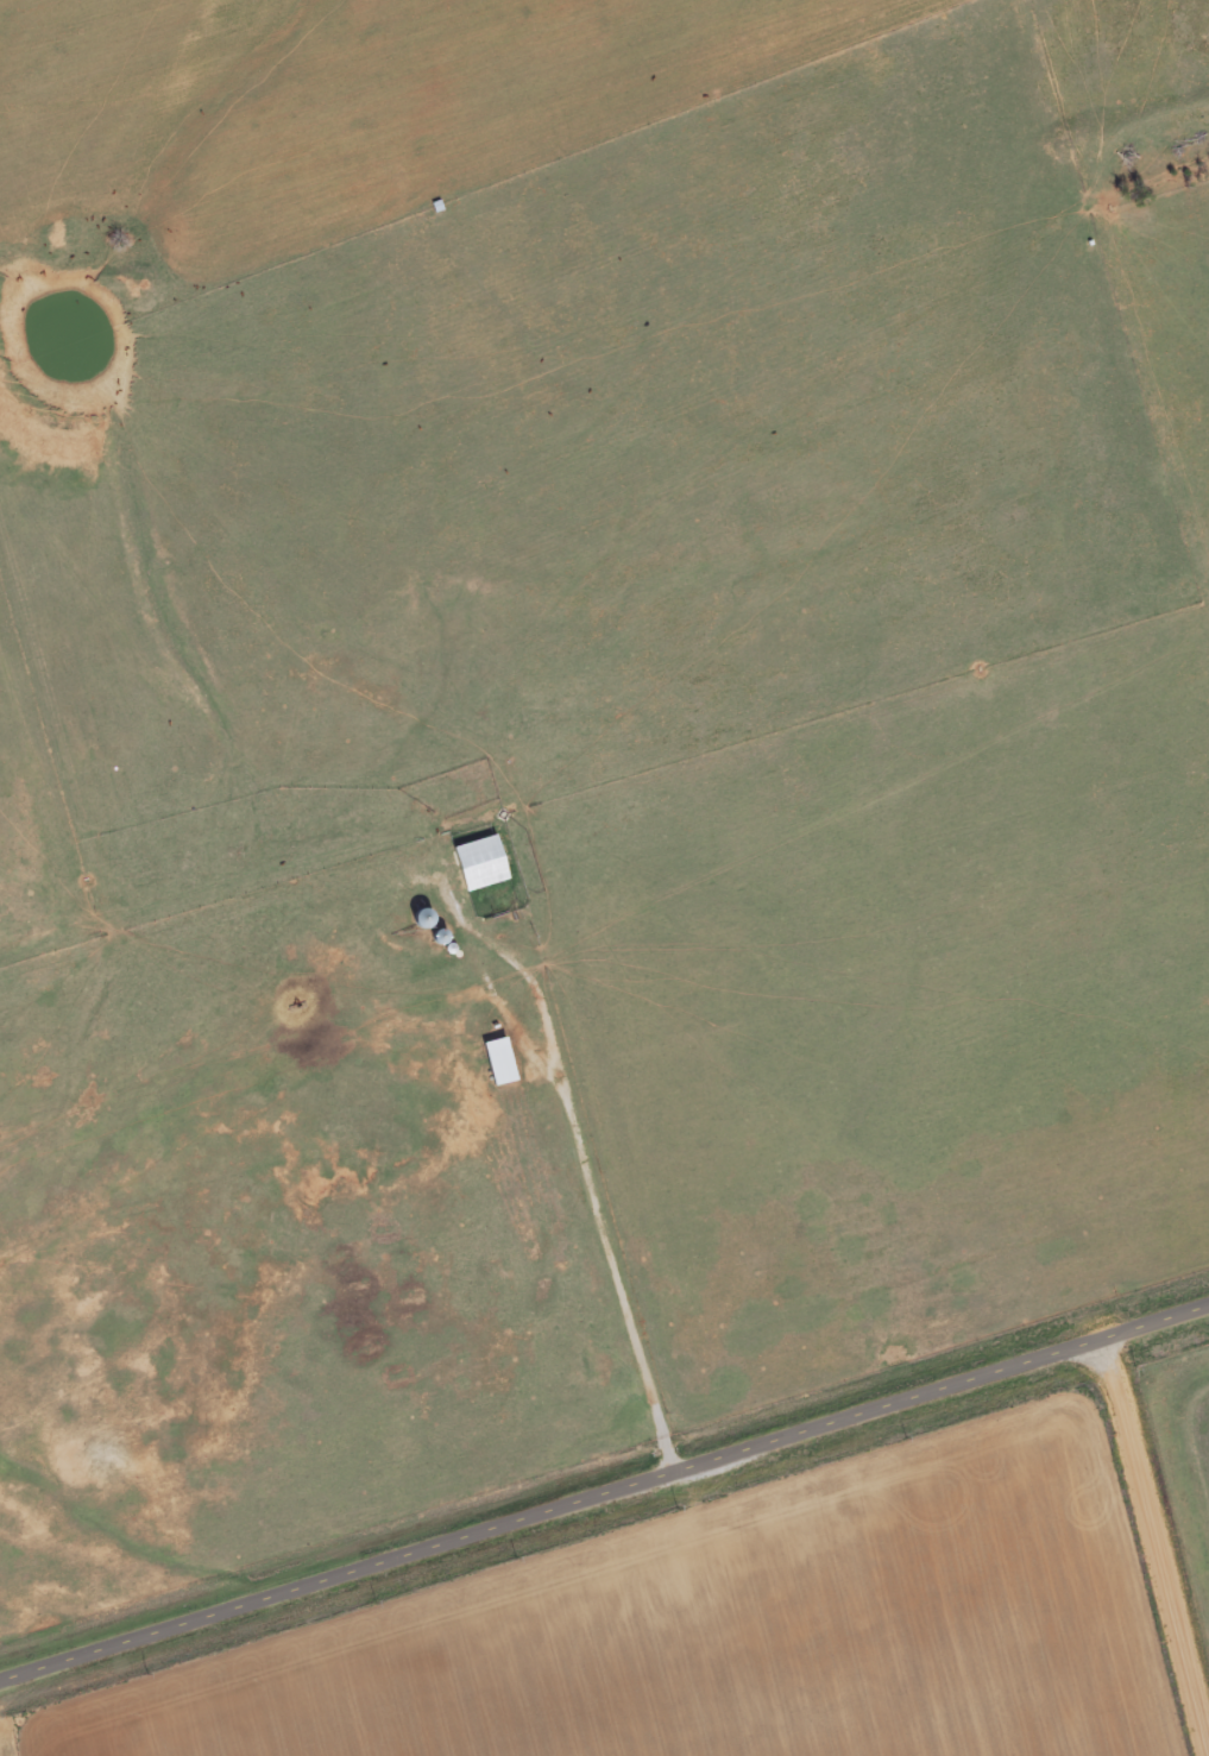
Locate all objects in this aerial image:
building: (483, 864)
building: (502, 1064)
road: (581, 1184)
road: (604, 1492)
road: (1152, 1547)

